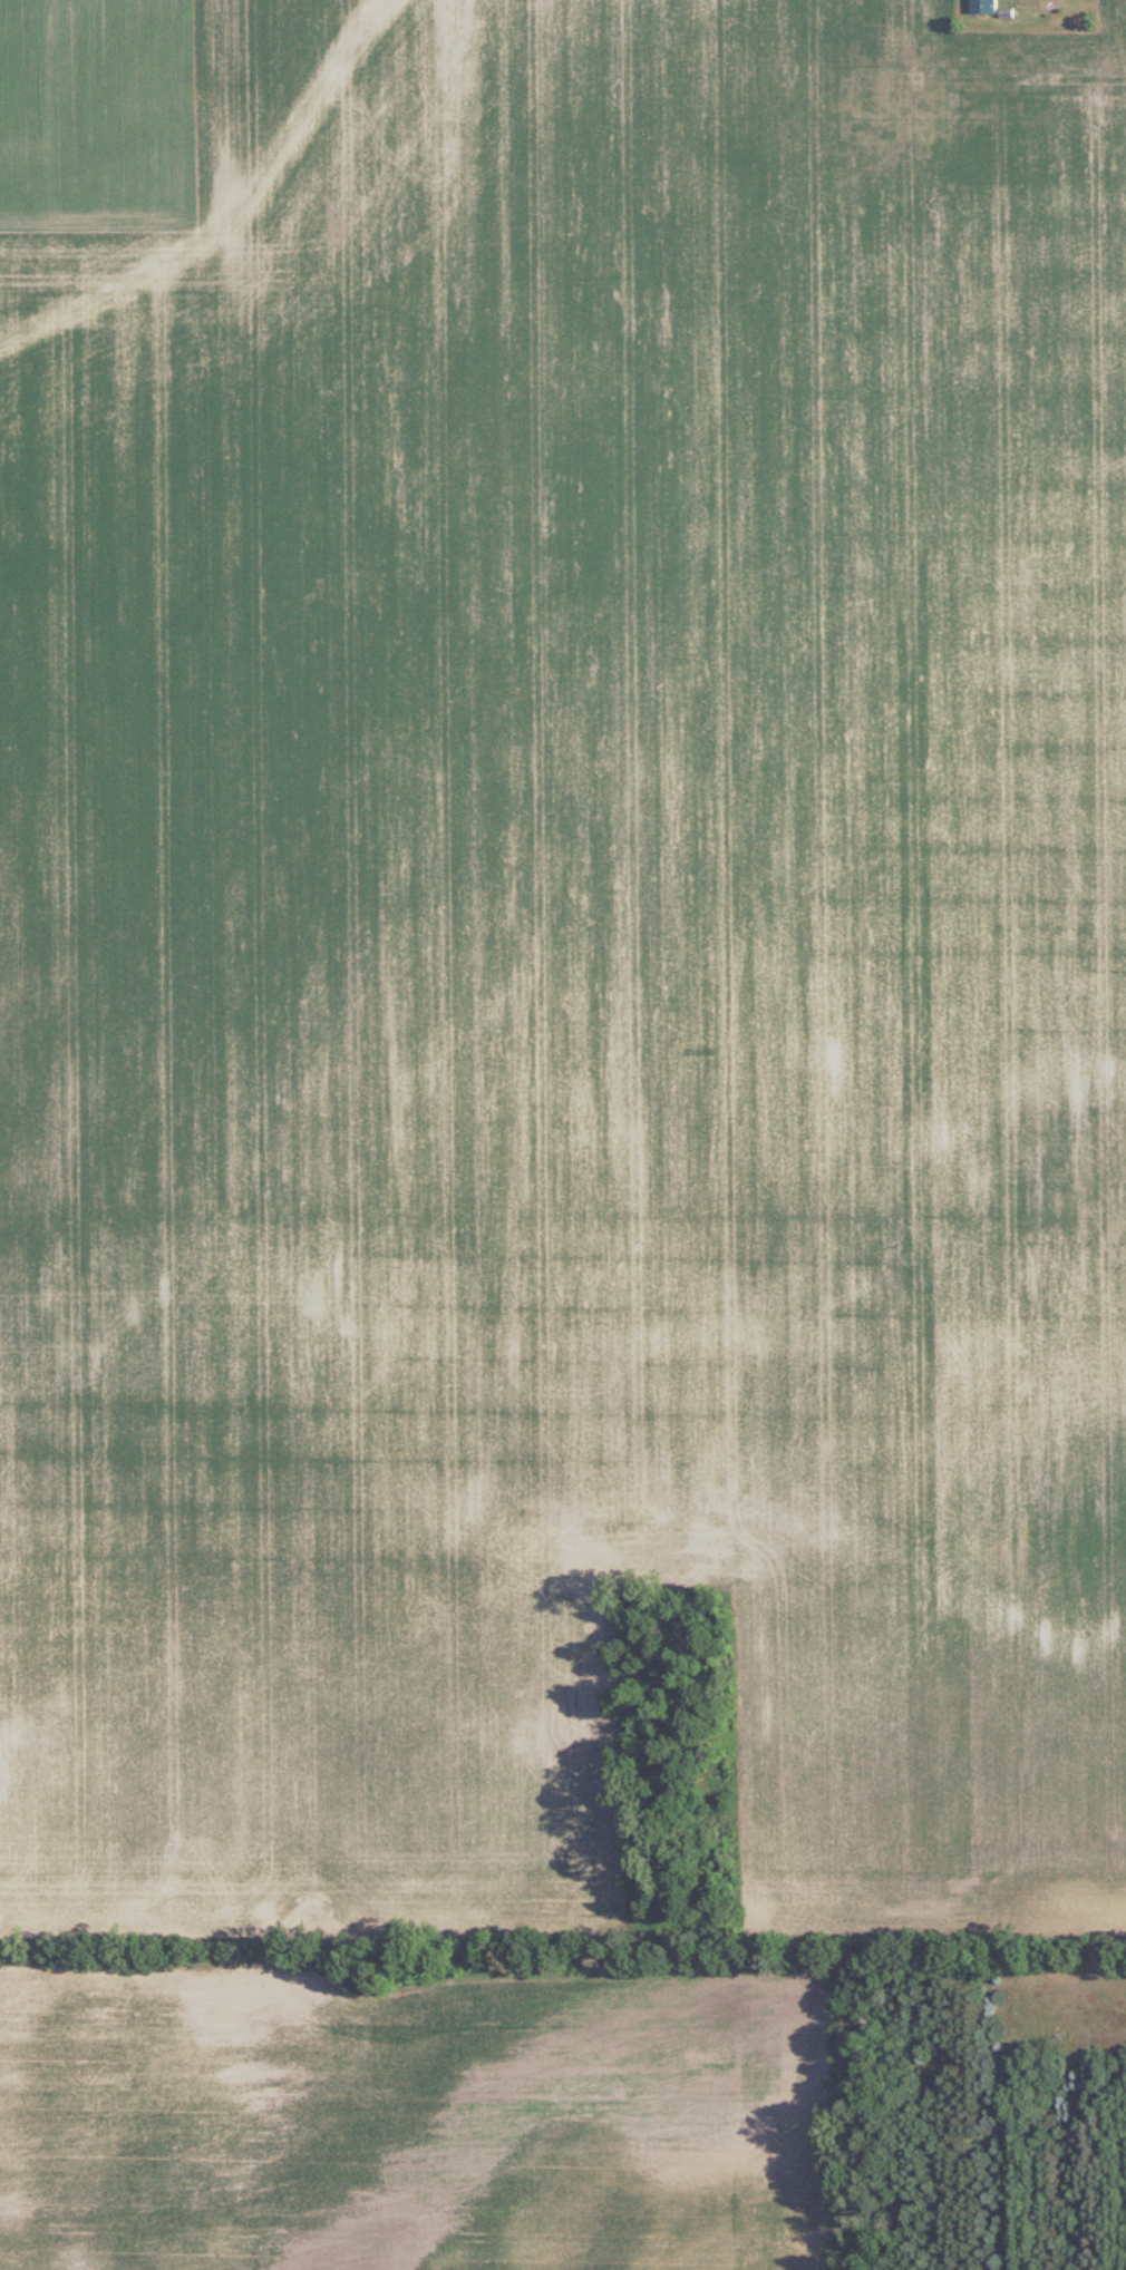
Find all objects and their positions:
building: (983, 6)

